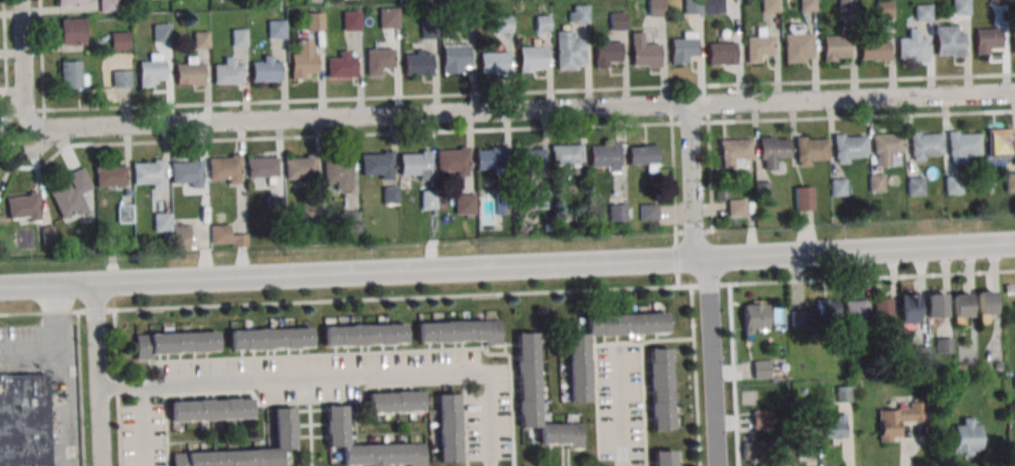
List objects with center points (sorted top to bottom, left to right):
building: (998, 2)
building: (70, 3)
building: (845, 4)
building: (108, 5)
building: (807, 5)
building: (713, 6)
building: (770, 6)
building: (692, 7)
building: (960, 7)
building: (655, 8)
building: (883, 9)
building: (922, 11)
building: (578, 14)
building: (388, 17)
building: (350, 20)
building: (467, 20)
building: (617, 20)
building: (314, 21)
building: (541, 22)
building: (503, 24)
building: (276, 29)
building: (428, 29)
building: (72, 31)
building: (161, 33)
building: (239, 36)
building: (201, 39)
building: (118, 40)
building: (949, 40)
building: (987, 40)
building: (1013, 43)
building: (797, 47)
building: (836, 47)
building: (871, 47)
building: (911, 47)
building: (682, 48)
building: (758, 48)
road: (5, 50)
building: (568, 51)
building: (643, 51)
building: (606, 52)
road: (41, 54)
building: (721, 54)
building: (454, 57)
building: (531, 58)
building: (377, 59)
building: (303, 61)
building: (493, 62)
building: (416, 63)
road: (23, 65)
building: (343, 66)
building: (151, 69)
building: (266, 70)
building: (189, 71)
building: (228, 72)
building: (72, 74)
building: (121, 78)
road: (529, 91)
road: (851, 101)
road: (862, 115)
road: (358, 121)
road: (413, 131)
building: (1000, 142)
building: (923, 146)
building: (962, 146)
building: (885, 147)
building: (848, 149)
building: (734, 150)
building: (772, 150)
building: (811, 150)
building: (566, 153)
building: (644, 155)
building: (490, 157)
building: (528, 158)
building: (606, 158)
building: (452, 160)
building: (376, 164)
building: (414, 165)
building: (262, 166)
building: (301, 168)
building: (225, 170)
building: (335, 171)
building: (186, 172)
building: (110, 175)
building: (151, 175)
building: (1009, 180)
building: (876, 182)
road: (691, 184)
road: (711, 184)
building: (915, 185)
building: (952, 185)
building: (838, 187)
building: (763, 190)
building: (71, 194)
building: (390, 195)
building: (542, 198)
building: (803, 198)
building: (428, 200)
building: (503, 202)
building: (464, 203)
building: (275, 206)
building: (25, 209)
building: (736, 209)
building: (648, 211)
building: (617, 212)
building: (124, 213)
building: (312, 213)
building: (350, 222)
building: (162, 223)
building: (48, 236)
building: (225, 236)
building: (181, 238)
road: (858, 253)
road: (351, 276)
road: (507, 292)
building: (984, 302)
building: (935, 304)
building: (960, 304)
building: (908, 307)
building: (882, 311)
building: (855, 313)
building: (816, 314)
building: (755, 317)
building: (778, 317)
building: (459, 330)
building: (364, 334)
road: (96, 337)
building: (269, 338)
road: (666, 340)
building: (175, 343)
road: (618, 343)
building: (944, 345)
road: (35, 347)
building: (893, 347)
road: (368, 352)
building: (920, 354)
road: (711, 363)
building: (577, 368)
building: (760, 368)
road: (734, 374)
road: (694, 375)
road: (338, 376)
road: (71, 377)
building: (526, 377)
road: (118, 387)
road: (81, 388)
building: (660, 388)
building: (843, 393)
building: (394, 400)
road: (322, 401)
building: (210, 408)
road: (624, 409)
building: (23, 419)
building: (761, 419)
building: (898, 419)
road: (100, 427)
building: (447, 427)
building: (283, 428)
building: (835, 428)
road: (310, 434)
road: (370, 434)
building: (966, 436)
road: (231, 439)
building: (366, 444)
building: (806, 444)
building: (759, 449)
building: (663, 457)

